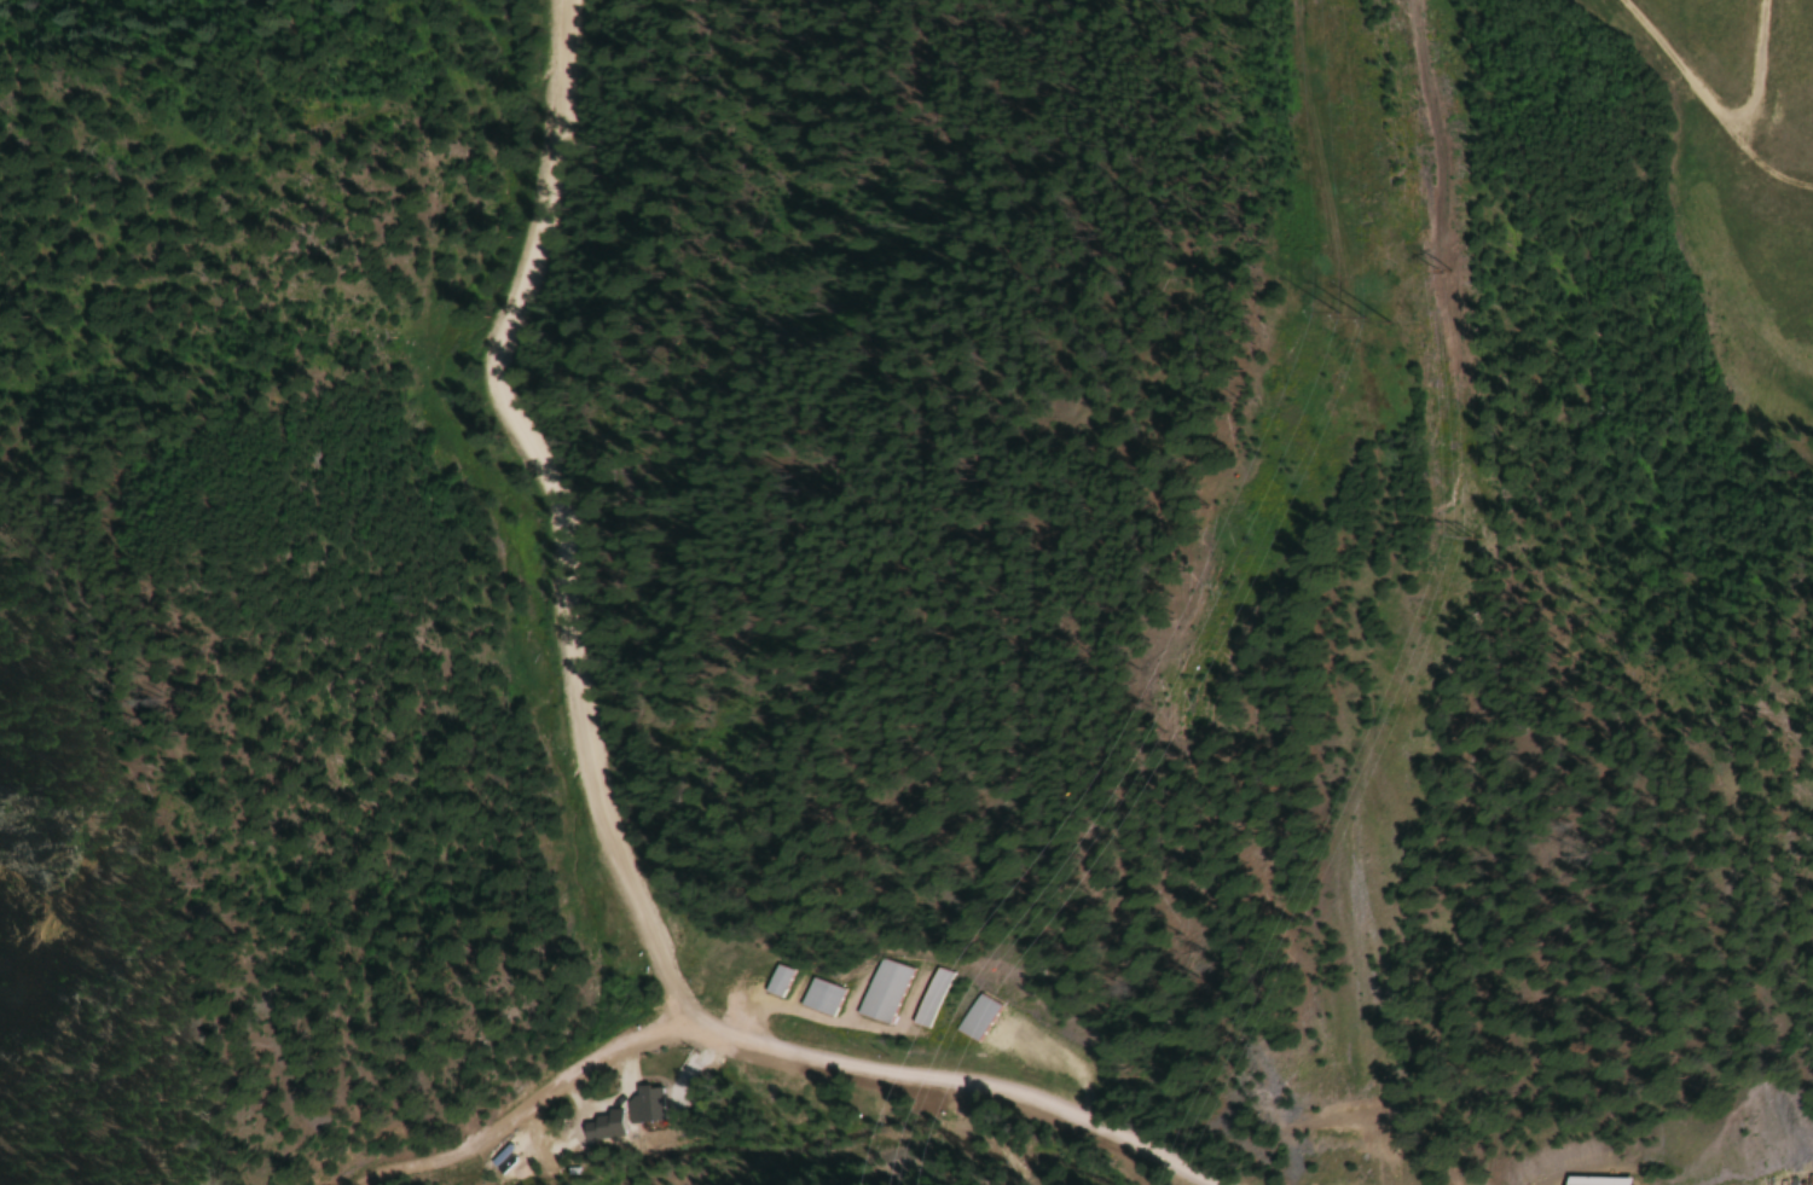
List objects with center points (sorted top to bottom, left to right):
building: (555, 193)
power tower: (1359, 316)
road: (562, 513)
building: (774, 981)
building: (877, 991)
building: (816, 997)
building: (925, 998)
building: (972, 1017)
road: (792, 1051)
building: (645, 1104)
building: (1588, 1180)

